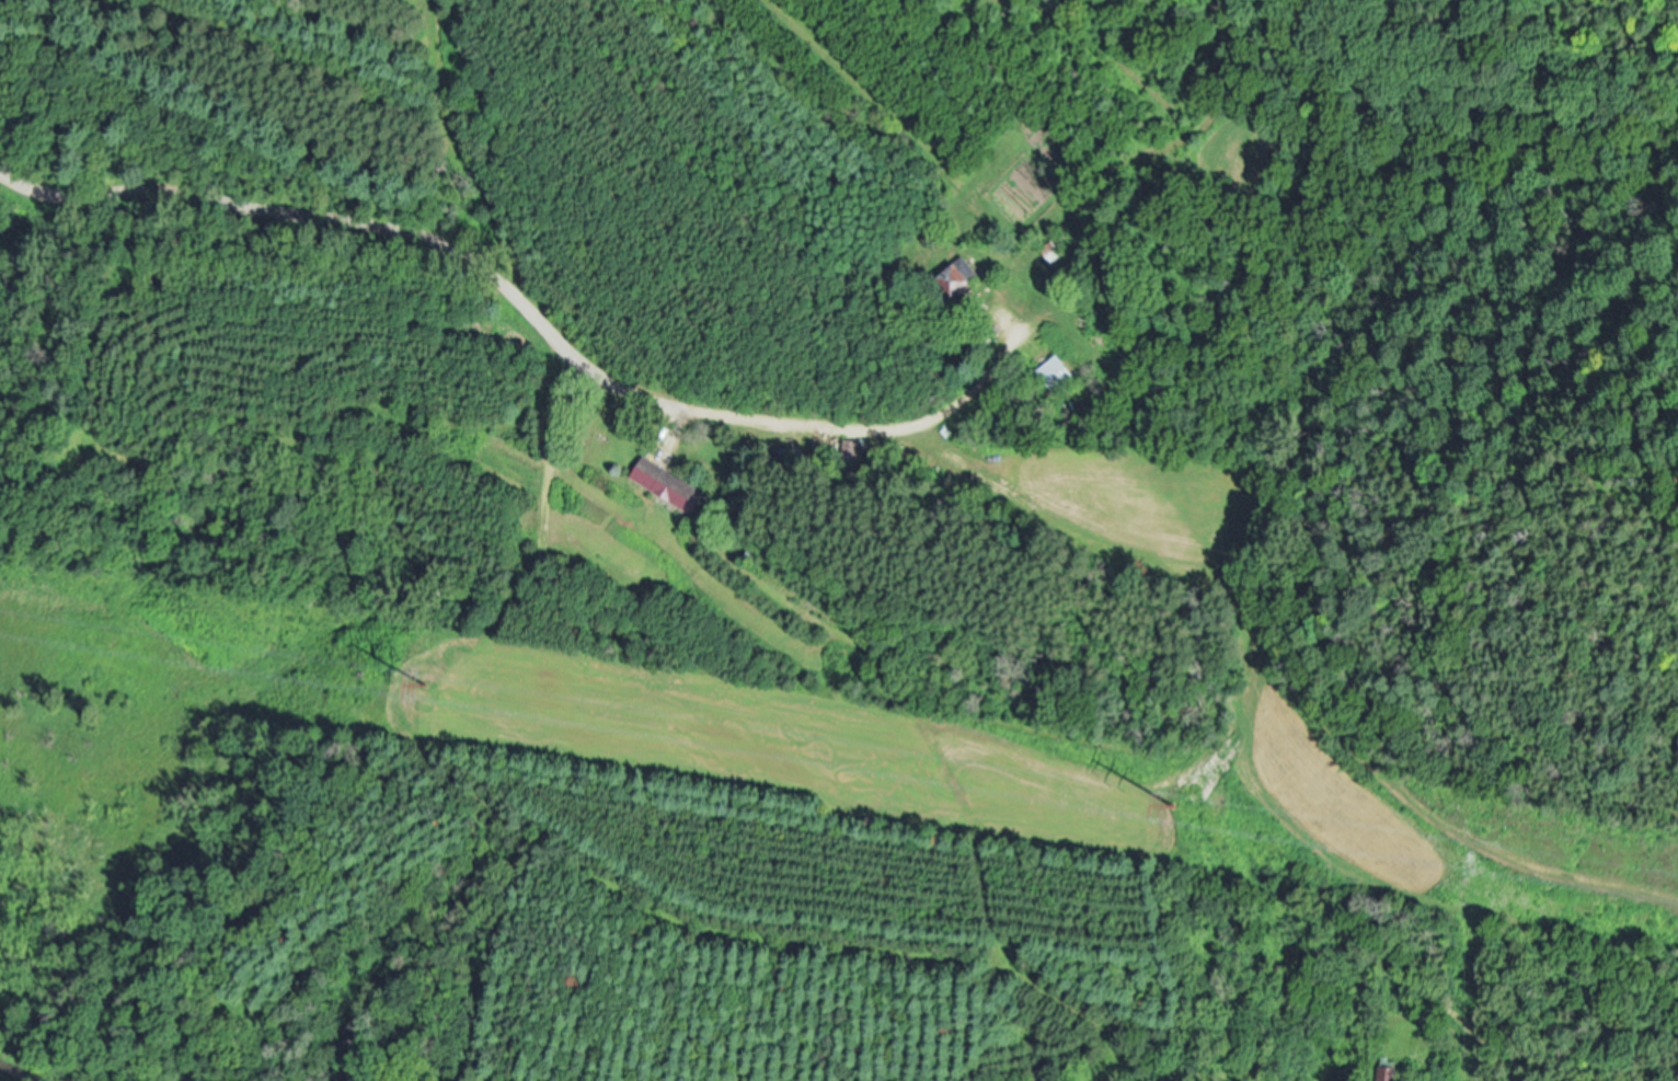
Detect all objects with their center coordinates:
building: (1050, 250)
building: (961, 275)
road: (527, 306)
building: (1056, 371)
building: (668, 482)
power tower: (427, 679)
power tower: (1174, 801)
building: (1393, 1072)

